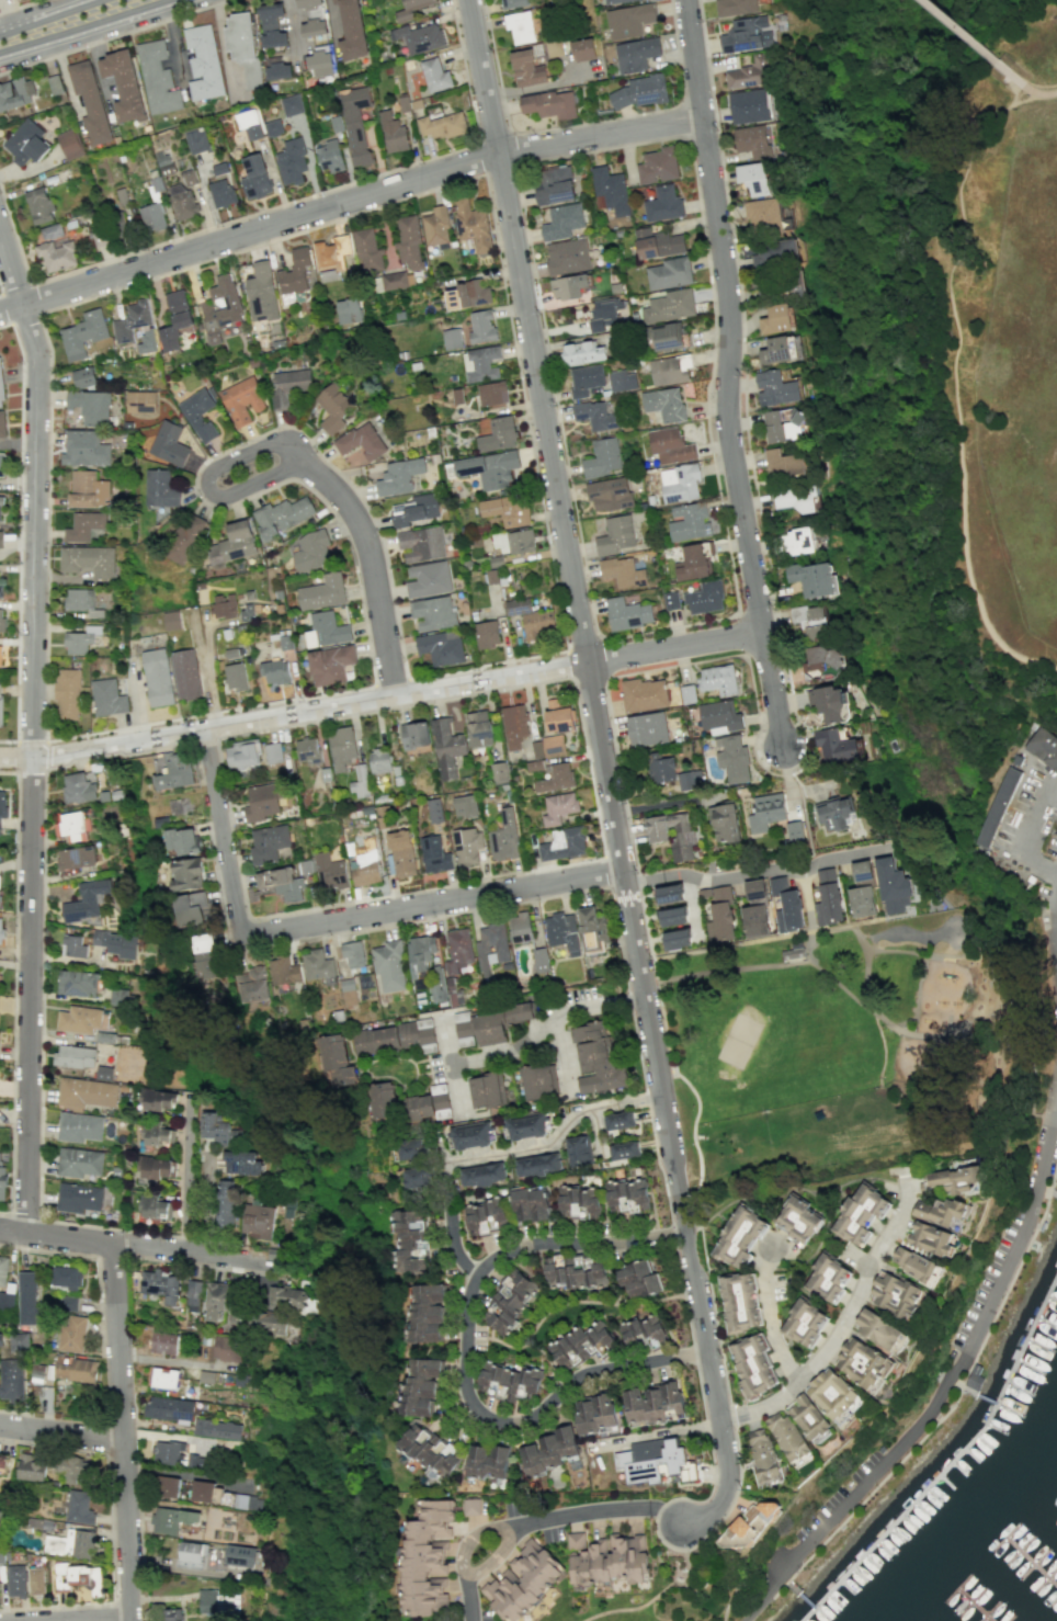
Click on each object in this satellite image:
building: (615, 1)
building: (512, 3)
road: (19, 5)
building: (734, 7)
building: (410, 9)
road: (49, 16)
building: (311, 18)
building: (628, 20)
building: (271, 25)
road: (89, 26)
building: (519, 26)
building: (351, 30)
road: (672, 31)
road: (958, 31)
building: (746, 34)
road: (114, 36)
building: (419, 37)
building: (242, 45)
building: (554, 48)
building: (582, 48)
building: (635, 54)
building: (202, 63)
building: (319, 63)
building: (276, 68)
building: (526, 68)
building: (749, 72)
building: (434, 75)
building: (157, 78)
road: (1013, 79)
building: (123, 84)
building: (639, 91)
building: (15, 93)
road: (1044, 97)
building: (89, 102)
building: (291, 104)
building: (549, 104)
building: (749, 105)
road: (1005, 106)
building: (355, 123)
building: (250, 124)
building: (441, 125)
building: (273, 127)
road: (550, 127)
building: (391, 132)
road: (668, 137)
building: (197, 139)
building: (752, 140)
building: (25, 143)
building: (69, 144)
road: (511, 147)
building: (329, 156)
building: (291, 161)
building: (657, 166)
road: (484, 172)
building: (254, 177)
building: (754, 178)
building: (553, 184)
building: (611, 189)
building: (220, 193)
building: (181, 201)
road: (345, 202)
building: (662, 204)
building: (38, 205)
road: (277, 205)
building: (762, 214)
building: (152, 217)
building: (561, 222)
building: (471, 225)
building: (435, 226)
building: (50, 230)
building: (409, 242)
building: (657, 243)
building: (366, 250)
building: (773, 252)
building: (57, 253)
building: (567, 256)
building: (331, 257)
building: (295, 272)
building: (669, 273)
building: (396, 280)
road: (30, 282)
building: (568, 286)
building: (261, 293)
building: (468, 294)
building: (177, 301)
building: (669, 306)
building: (219, 307)
building: (349, 310)
building: (603, 313)
building: (776, 318)
building: (132, 320)
building: (481, 327)
building: (174, 330)
building: (82, 333)
building: (667, 337)
building: (451, 338)
building: (147, 341)
building: (780, 349)
building: (582, 352)
building: (480, 363)
building: (670, 369)
building: (83, 376)
road: (726, 376)
building: (584, 379)
building: (622, 381)
building: (288, 385)
building: (774, 388)
building: (492, 393)
building: (0, 395)
building: (242, 400)
building: (664, 404)
building: (90, 406)
building: (333, 407)
building: (198, 413)
building: (594, 415)
road: (959, 416)
building: (2, 426)
building: (781, 427)
building: (498, 434)
building: (361, 441)
building: (169, 443)
building: (669, 445)
building: (84, 449)
building: (602, 457)
building: (783, 463)
building: (1, 464)
building: (489, 468)
road: (317, 473)
building: (399, 476)
building: (679, 481)
building: (160, 488)
building: (87, 489)
building: (609, 494)
building: (796, 499)
building: (0, 508)
building: (414, 509)
building: (507, 509)
building: (281, 515)
building: (687, 521)
building: (83, 525)
road: (18, 533)
building: (615, 534)
building: (0, 537)
building: (183, 540)
building: (512, 541)
building: (796, 542)
building: (232, 543)
building: (421, 543)
road: (567, 547)
building: (311, 551)
building: (89, 560)
building: (693, 560)
building: (622, 571)
building: (428, 579)
building: (812, 579)
road: (557, 589)
building: (1, 590)
building: (321, 592)
building: (705, 597)
building: (670, 600)
building: (81, 601)
building: (224, 605)
building: (432, 613)
building: (627, 613)
building: (1, 619)
building: (532, 619)
building: (170, 620)
building: (810, 620)
building: (326, 630)
building: (486, 633)
road: (742, 633)
building: (80, 639)
road: (584, 645)
building: (441, 647)
building: (0, 656)
road: (604, 657)
building: (820, 657)
building: (330, 664)
road: (568, 664)
building: (274, 671)
building: (184, 673)
building: (157, 677)
building: (235, 677)
building: (717, 679)
road: (389, 682)
road: (789, 690)
road: (408, 692)
building: (67, 693)
building: (643, 694)
building: (686, 694)
building: (106, 698)
road: (375, 698)
road: (382, 699)
building: (0, 702)
building: (827, 703)
building: (557, 716)
building: (718, 716)
building: (513, 725)
road: (33, 728)
building: (479, 728)
building: (646, 729)
building: (414, 735)
road: (216, 739)
road: (203, 740)
road: (44, 741)
building: (553, 745)
building: (834, 746)
building: (341, 747)
building: (446, 747)
building: (1042, 748)
building: (307, 750)
road: (137, 752)
building: (273, 752)
building: (241, 753)
building: (535, 757)
building: (731, 758)
building: (378, 760)
building: (659, 768)
road: (15, 771)
building: (173, 771)
building: (499, 772)
building: (555, 778)
building: (687, 780)
building: (360, 782)
building: (78, 786)
building: (263, 801)
parking lot: (1018, 802)
building: (2, 805)
building: (179, 805)
building: (464, 806)
building: (558, 807)
building: (995, 807)
building: (434, 810)
building: (765, 812)
building: (833, 814)
building: (724, 824)
building: (70, 826)
building: (794, 831)
road: (220, 832)
building: (671, 834)
building: (504, 837)
road: (1025, 839)
building: (182, 840)
building: (268, 842)
building: (562, 843)
building: (467, 846)
parking lot: (1052, 846)
building: (401, 853)
building: (434, 854)
building: (75, 858)
building: (861, 870)
building: (329, 872)
road: (605, 873)
building: (185, 874)
road: (750, 875)
building: (282, 884)
building: (891, 885)
building: (754, 889)
building: (668, 894)
road: (626, 896)
building: (828, 898)
building: (86, 900)
building: (862, 900)
road: (430, 903)
building: (786, 905)
building: (190, 908)
building: (671, 916)
building: (720, 916)
building: (754, 920)
road: (845, 923)
building: (519, 927)
building: (1, 929)
building: (592, 930)
building: (561, 931)
park: (925, 932)
road: (859, 938)
building: (677, 939)
building: (115, 943)
road: (737, 943)
building: (795, 944)
building: (72, 945)
building: (490, 946)
building: (457, 950)
building: (420, 953)
building: (792, 953)
road: (867, 953)
building: (352, 954)
building: (203, 955)
road: (953, 955)
building: (539, 960)
road: (812, 962)
building: (316, 964)
building: (388, 966)
building: (282, 971)
building: (77, 982)
building: (251, 984)
road: (1002, 988)
road: (13, 990)
road: (916, 995)
building: (520, 1011)
building: (81, 1019)
building: (478, 1029)
building: (417, 1033)
park: (739, 1036)
building: (375, 1040)
road: (991, 1040)
road: (570, 1044)
road: (884, 1048)
park: (851, 1052)
building: (73, 1056)
building: (594, 1058)
building: (336, 1062)
road: (38, 1080)
building: (537, 1080)
building: (486, 1090)
building: (84, 1092)
building: (158, 1099)
building: (382, 1100)
road: (697, 1102)
building: (430, 1103)
road: (1043, 1116)
building: (618, 1120)
building: (79, 1126)
building: (525, 1126)
building: (217, 1130)
building: (471, 1134)
road: (560, 1134)
building: (158, 1135)
road: (697, 1138)
building: (410, 1148)
building: (623, 1149)
building: (577, 1150)
building: (78, 1161)
building: (241, 1163)
building: (537, 1165)
building: (156, 1167)
road: (658, 1169)
road: (1055, 1172)
road: (185, 1174)
building: (482, 1175)
building: (1, 1176)
building: (417, 1177)
building: (954, 1179)
pier: (1048, 1190)
building: (626, 1194)
building: (78, 1197)
building: (225, 1202)
building: (578, 1202)
building: (530, 1204)
building: (156, 1208)
building: (940, 1212)
building: (859, 1214)
road: (23, 1216)
building: (484, 1216)
building: (796, 1218)
building: (255, 1221)
road: (685, 1222)
building: (738, 1236)
building: (929, 1238)
building: (410, 1239)
road: (457, 1240)
road: (132, 1245)
road: (112, 1256)
road: (95, 1258)
road: (193, 1263)
building: (912, 1265)
building: (3, 1270)
building: (575, 1271)
building: (65, 1277)
building: (827, 1278)
building: (638, 1279)
parking lot: (985, 1280)
building: (160, 1284)
road: (1011, 1284)
building: (893, 1293)
building: (192, 1295)
building: (285, 1296)
building: (26, 1297)
building: (220, 1301)
building: (507, 1301)
road: (567, 1302)
building: (739, 1302)
building: (68, 1303)
road: (766, 1310)
building: (424, 1312)
road: (843, 1315)
building: (804, 1322)
building: (269, 1323)
building: (641, 1329)
building: (878, 1329)
building: (71, 1333)
building: (1, 1338)
building: (19, 1341)
building: (162, 1342)
building: (580, 1344)
building: (227, 1348)
road: (473, 1360)
road: (964, 1360)
building: (752, 1364)
building: (862, 1364)
pier: (1016, 1367)
building: (75, 1369)
building: (163, 1378)
building: (11, 1380)
building: (509, 1381)
building: (419, 1386)
building: (830, 1393)
building: (652, 1403)
building: (169, 1409)
road: (12, 1410)
building: (593, 1414)
road: (728, 1418)
building: (808, 1419)
building: (217, 1428)
road: (123, 1431)
road: (61, 1435)
building: (785, 1436)
road: (726, 1448)
building: (547, 1451)
building: (167, 1452)
building: (761, 1456)
building: (3, 1460)
building: (486, 1461)
building: (653, 1461)
building: (31, 1467)
building: (72, 1467)
road: (107, 1474)
road: (877, 1486)
building: (171, 1487)
building: (206, 1492)
parking lot: (836, 1494)
building: (248, 1501)
building: (470, 1506)
building: (79, 1507)
building: (0, 1510)
road: (596, 1512)
pier: (901, 1515)
road: (139, 1518)
building: (171, 1519)
building: (748, 1522)
road: (499, 1524)
building: (71, 1543)
building: (192, 1552)
building: (1, 1555)
building: (240, 1555)
building: (427, 1557)
building: (606, 1558)
road: (727, 1561)
pier: (1035, 1562)
building: (79, 1577)
building: (16, 1580)
building: (37, 1580)
building: (522, 1580)
road: (689, 1585)
park: (698, 1587)
road: (778, 1589)
road: (661, 1591)
road: (763, 1595)
road: (467, 1599)
road: (486, 1599)
road: (765, 1599)
pier: (977, 1600)
building: (216, 1601)
road: (56, 1607)
road: (113, 1611)
building: (169, 1614)
road: (113, 1620)

